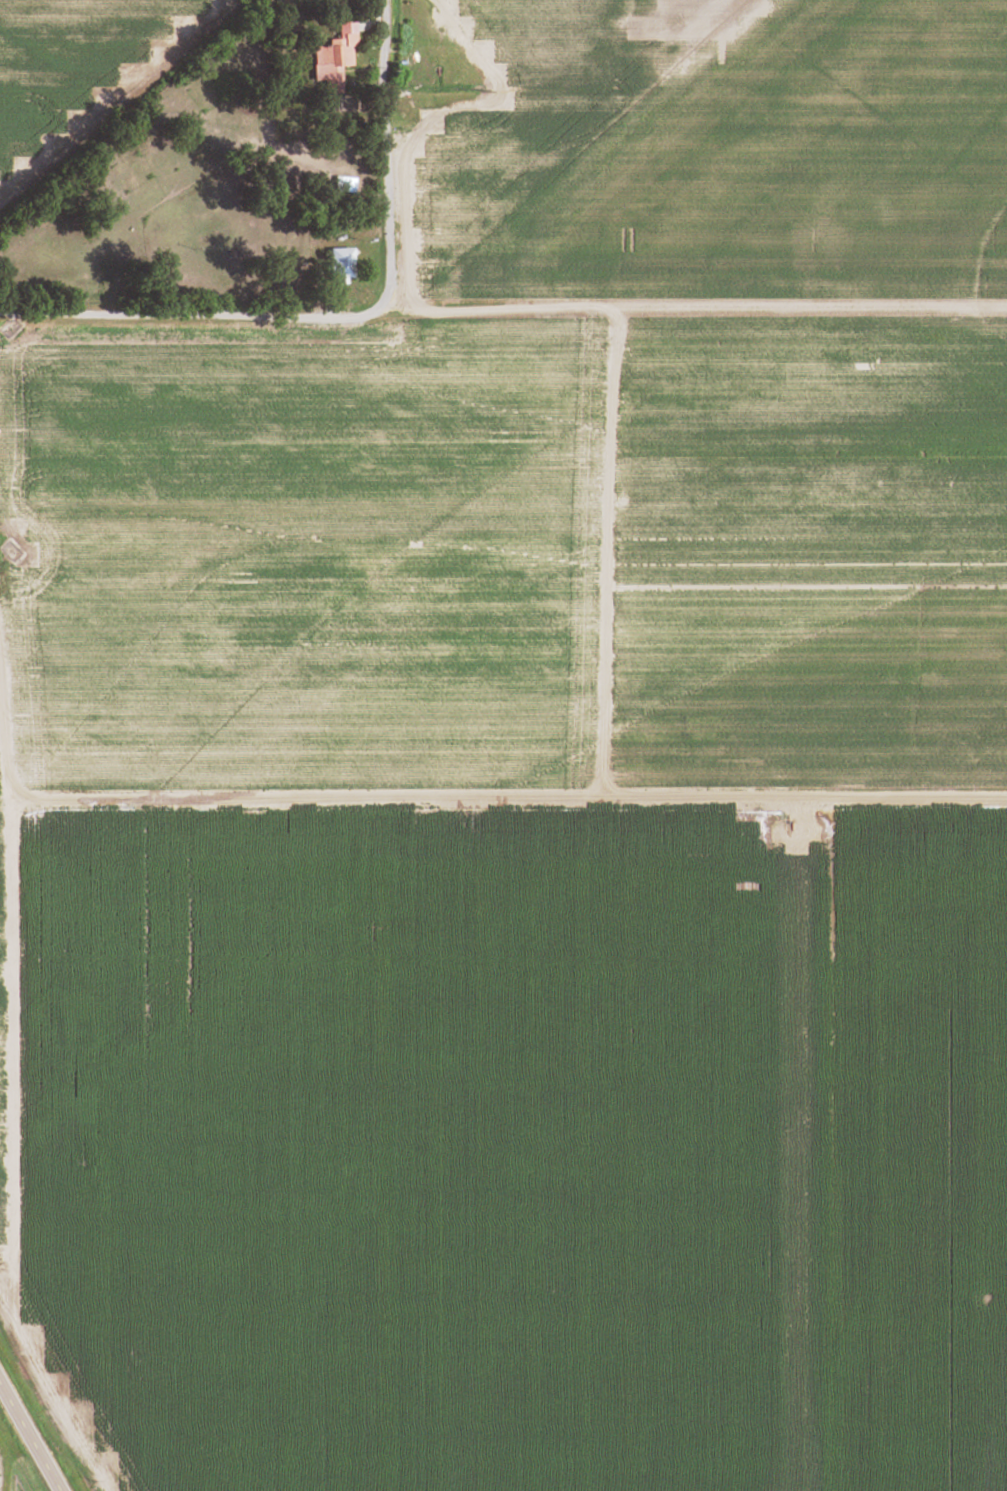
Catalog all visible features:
road: (458, 1)
building: (333, 60)
building: (344, 263)
road: (700, 310)
road: (350, 311)
road: (602, 557)
road: (503, 804)
road: (9, 1141)
road: (793, 1147)
road: (27, 1441)
road: (23, 1464)

